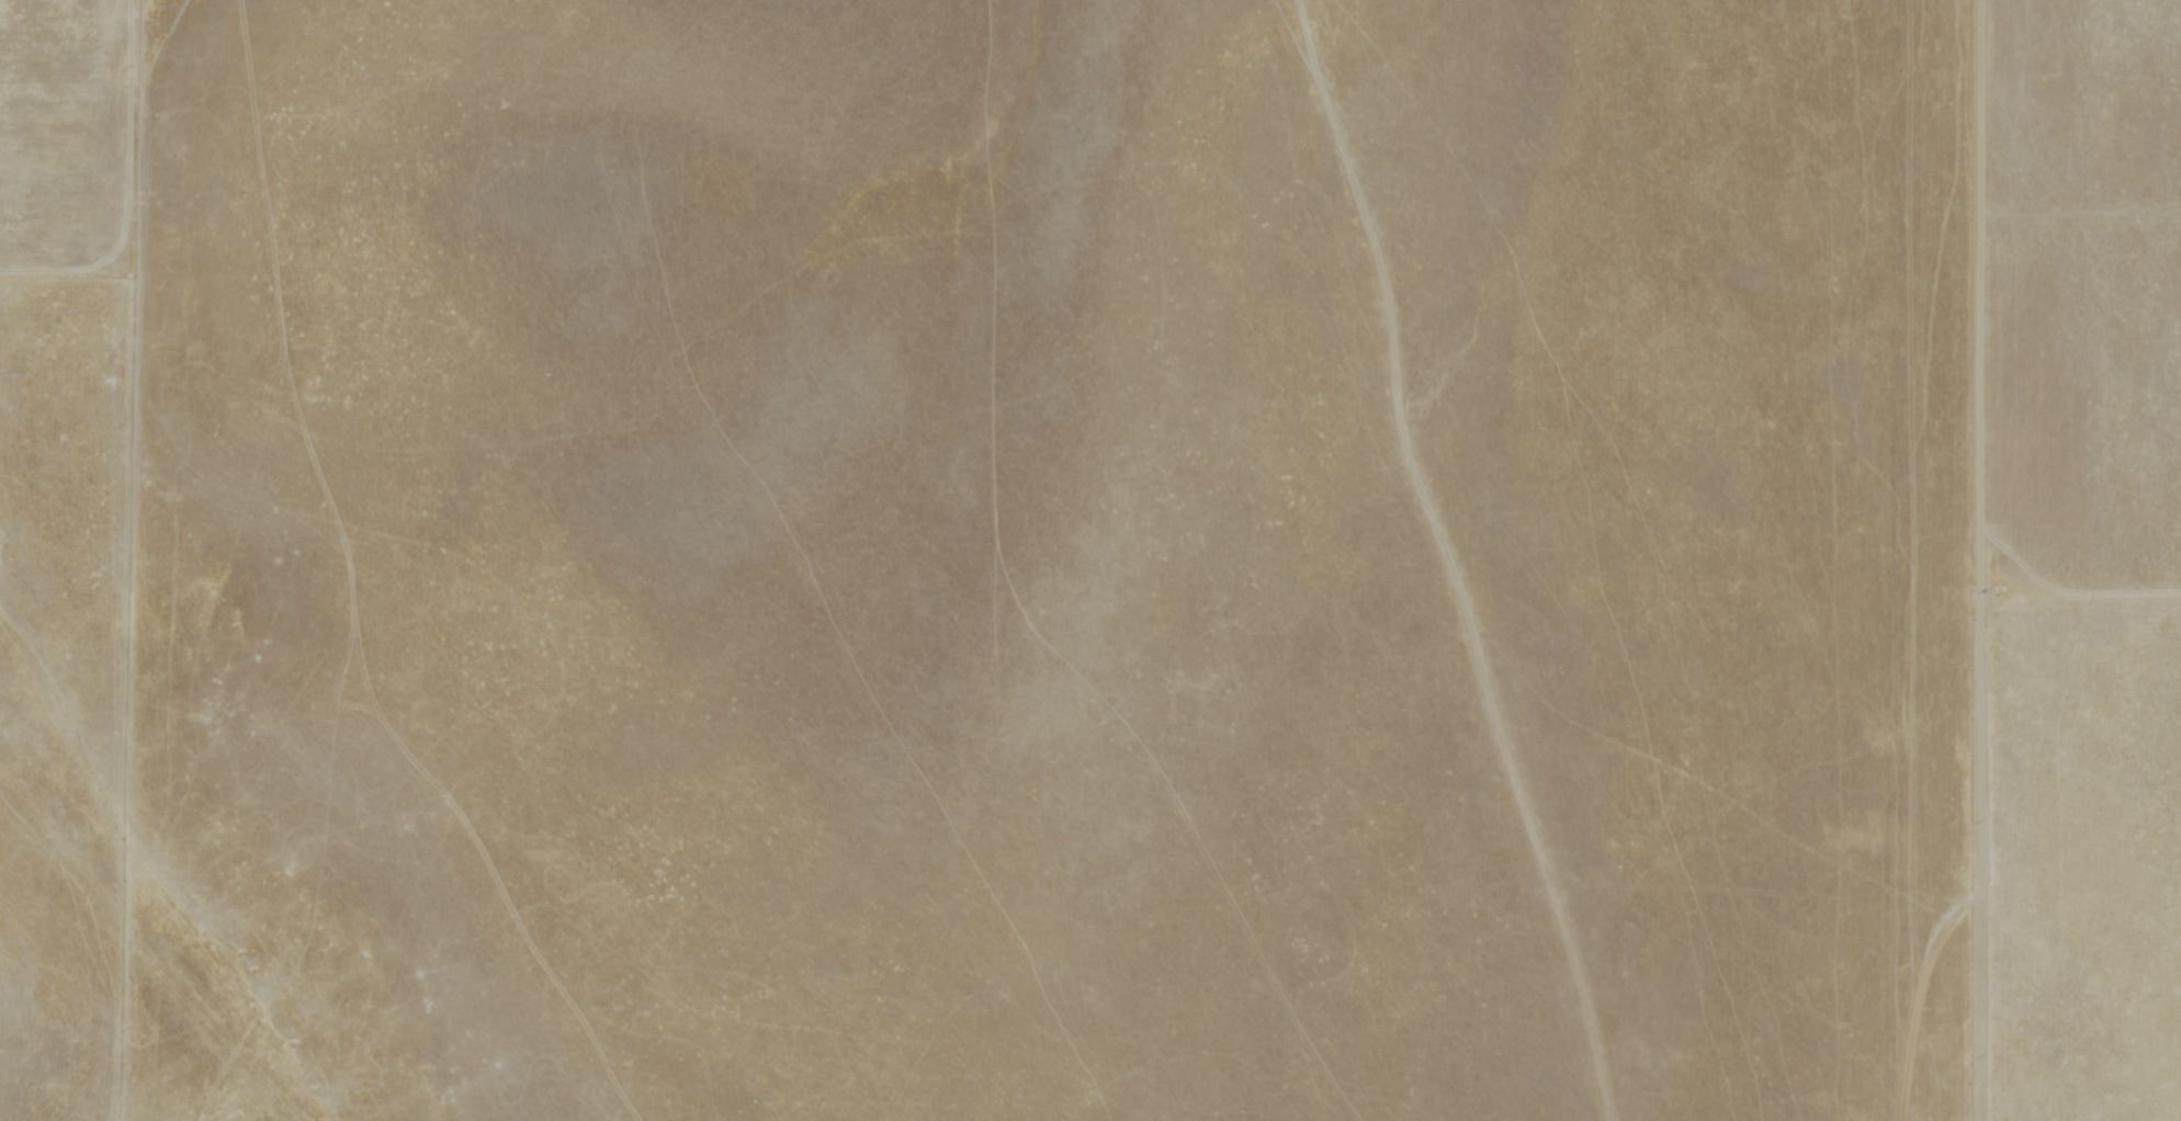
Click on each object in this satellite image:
crop: (2081, 290)

